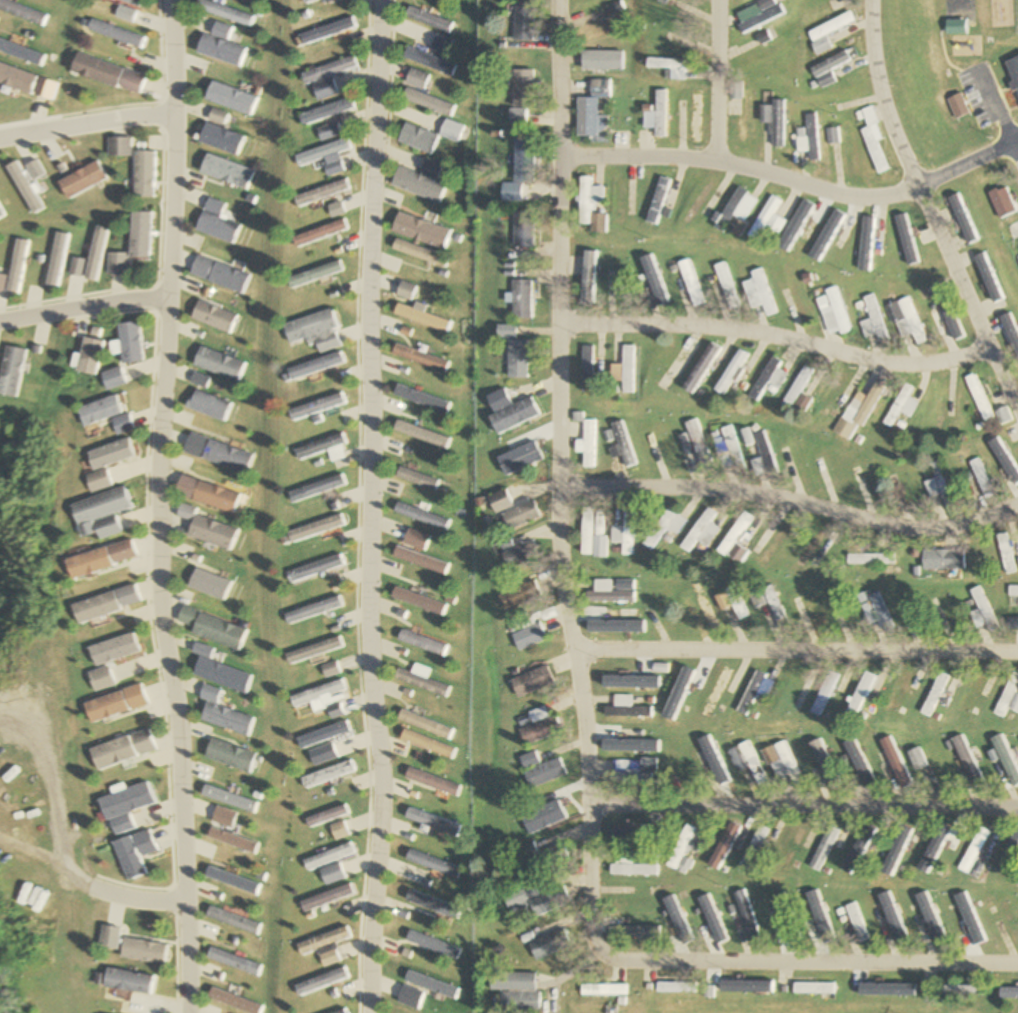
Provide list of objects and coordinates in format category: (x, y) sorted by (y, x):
building: (303, 1)
building: (690, 1)
building: (129, 9)
building: (757, 14)
building: (425, 19)
building: (606, 20)
building: (526, 21)
building: (322, 31)
building: (825, 32)
building: (117, 33)
building: (439, 44)
building: (216, 51)
building: (758, 53)
building: (602, 60)
building: (428, 61)
building: (670, 65)
building: (828, 67)
building: (1013, 69)
building: (324, 70)
building: (107, 73)
building: (415, 78)
road: (715, 80)
building: (525, 87)
building: (320, 89)
road: (878, 96)
building: (225, 98)
building: (427, 101)
building: (742, 107)
building: (590, 108)
building: (323, 111)
building: (656, 114)
building: (520, 116)
building: (772, 120)
road: (85, 123)
building: (453, 130)
building: (326, 132)
building: (808, 137)
building: (418, 138)
building: (216, 139)
building: (872, 139)
building: (115, 147)
building: (840, 147)
road: (1015, 153)
building: (323, 156)
road: (967, 164)
road: (744, 167)
building: (523, 169)
building: (140, 174)
building: (423, 181)
building: (322, 192)
building: (657, 200)
building: (591, 206)
building: (336, 209)
building: (736, 212)
building: (763, 218)
building: (215, 227)
building: (525, 229)
building: (424, 231)
building: (321, 233)
building: (865, 242)
building: (130, 244)
building: (424, 253)
building: (1017, 261)
building: (219, 274)
building: (318, 274)
building: (589, 277)
building: (621, 279)
building: (656, 282)
building: (690, 282)
building: (725, 286)
building: (755, 290)
building: (410, 291)
building: (524, 299)
road: (967, 299)
road: (82, 305)
building: (833, 313)
building: (216, 316)
building: (425, 317)
building: (946, 318)
building: (871, 320)
building: (904, 320)
building: (320, 331)
road: (779, 336)
building: (132, 342)
building: (516, 352)
building: (92, 356)
building: (423, 358)
building: (224, 364)
building: (321, 366)
building: (587, 369)
building: (625, 370)
building: (730, 373)
building: (767, 378)
building: (117, 379)
building: (796, 387)
building: (978, 397)
building: (801, 404)
building: (215, 405)
building: (320, 407)
building: (899, 407)
building: (511, 411)
building: (857, 411)
building: (111, 414)
building: (1003, 416)
building: (422, 434)
building: (587, 444)
building: (622, 444)
building: (697, 446)
building: (326, 449)
building: (728, 450)
building: (223, 453)
building: (757, 454)
building: (116, 463)
building: (798, 463)
road: (561, 467)
building: (417, 479)
building: (980, 479)
building: (937, 486)
building: (319, 488)
building: (213, 493)
road: (791, 505)
road: (157, 506)
road: (368, 507)
building: (513, 510)
building: (114, 512)
building: (422, 517)
building: (663, 528)
building: (319, 529)
building: (587, 531)
building: (217, 533)
building: (625, 533)
building: (699, 535)
building: (734, 540)
building: (600, 547)
building: (1005, 553)
building: (519, 554)
building: (870, 559)
building: (942, 560)
building: (422, 561)
building: (101, 563)
building: (319, 569)
building: (217, 585)
building: (1013, 591)
building: (611, 592)
building: (521, 596)
building: (754, 599)
building: (421, 601)
building: (730, 602)
building: (337, 604)
building: (117, 605)
building: (774, 608)
building: (808, 611)
building: (875, 611)
building: (982, 611)
building: (950, 612)
building: (614, 621)
building: (221, 629)
building: (530, 637)
building: (425, 642)
building: (124, 650)
building: (320, 651)
road: (795, 651)
building: (336, 670)
building: (110, 680)
building: (426, 682)
building: (535, 682)
building: (629, 682)
building: (899, 691)
building: (680, 692)
building: (716, 692)
building: (974, 692)
building: (323, 693)
building: (751, 693)
building: (824, 694)
building: (934, 694)
building: (1007, 695)
building: (860, 696)
building: (1015, 705)
building: (114, 707)
building: (626, 708)
building: (227, 714)
building: (429, 724)
building: (541, 726)
building: (327, 735)
building: (431, 744)
building: (128, 750)
building: (232, 755)
building: (1006, 760)
building: (746, 761)
building: (781, 762)
building: (967, 762)
building: (649, 763)
building: (927, 763)
building: (897, 764)
building: (857, 768)
building: (543, 769)
building: (330, 774)
building: (632, 778)
building: (434, 781)
building: (128, 801)
road: (805, 806)
building: (327, 816)
building: (433, 821)
building: (231, 841)
building: (754, 847)
building: (948, 847)
building: (722, 848)
building: (824, 848)
building: (898, 848)
building: (684, 849)
building: (974, 850)
building: (1009, 853)
building: (329, 857)
building: (544, 858)
building: (433, 864)
building: (631, 867)
building: (331, 875)
building: (325, 898)
building: (544, 900)
building: (432, 904)
building: (748, 917)
building: (679, 920)
building: (1005, 921)
building: (858, 923)
building: (967, 924)
building: (321, 941)
building: (548, 945)
building: (327, 959)
road: (799, 963)
building: (318, 982)
building: (426, 984)
building: (679, 988)
building: (816, 989)
building: (604, 991)
building: (958, 991)
building: (516, 992)
building: (1009, 995)
building: (339, 1012)

